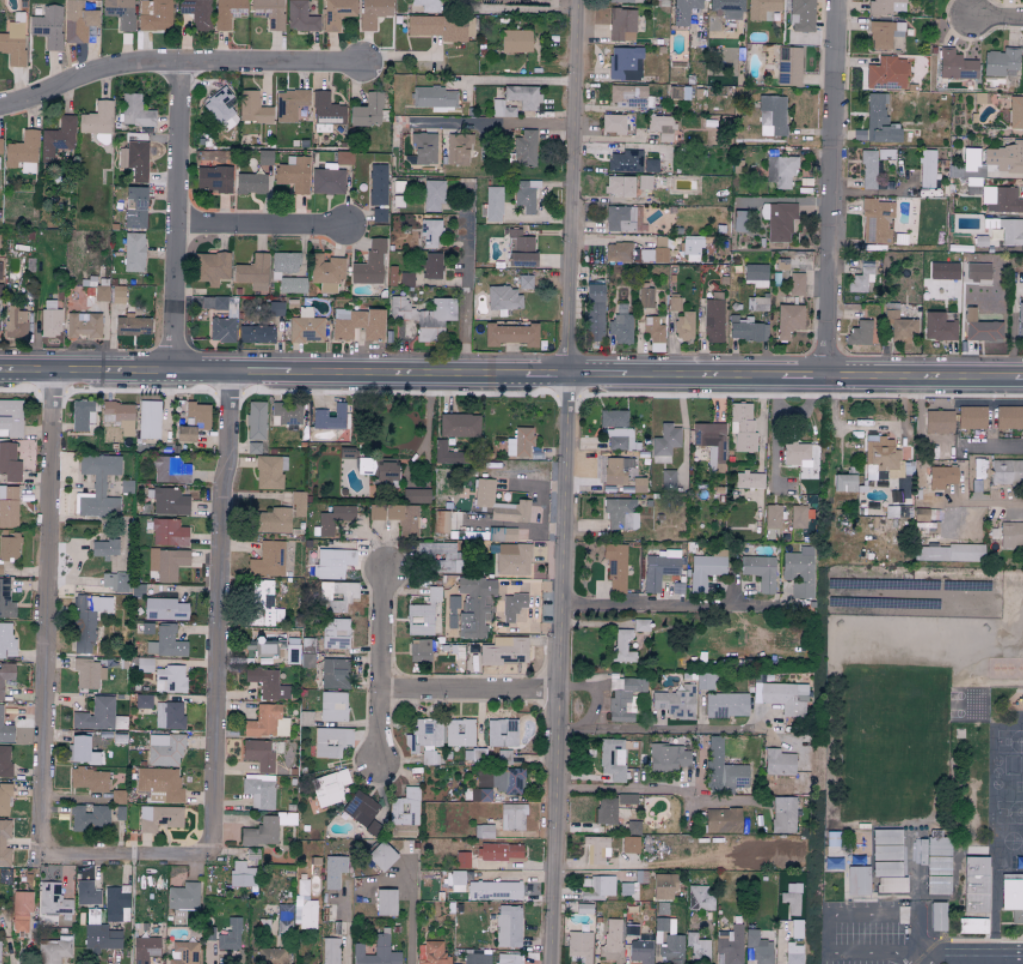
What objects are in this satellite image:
building: (504, 0)
building: (626, 1)
building: (426, 5)
building: (887, 6)
road: (525, 8)
building: (727, 8)
building: (762, 9)
building: (683, 11)
building: (120, 12)
building: (228, 12)
building: (268, 12)
building: (337, 12)
building: (373, 12)
building: (196, 13)
building: (155, 14)
building: (801, 15)
building: (300, 17)
road: (998, 19)
building: (77, 21)
building: (622, 24)
building: (48, 26)
building: (443, 27)
building: (884, 33)
building: (515, 40)
building: (1000, 62)
road: (176, 63)
building: (624, 63)
building: (788, 65)
building: (955, 65)
building: (886, 73)
road: (516, 81)
building: (674, 92)
building: (627, 95)
building: (523, 96)
building: (434, 97)
building: (289, 103)
building: (219, 105)
building: (252, 108)
building: (326, 109)
building: (501, 109)
building: (366, 110)
building: (133, 112)
building: (1015, 112)
building: (772, 115)
building: (97, 121)
building: (877, 121)
building: (613, 123)
road: (509, 124)
building: (661, 127)
building: (57, 138)
building: (424, 148)
building: (458, 148)
building: (524, 148)
building: (22, 152)
building: (264, 157)
building: (343, 157)
building: (1005, 157)
building: (134, 159)
building: (969, 159)
building: (625, 161)
building: (650, 165)
building: (926, 168)
building: (868, 169)
building: (780, 171)
building: (293, 174)
building: (213, 178)
building: (327, 181)
building: (644, 182)
building: (250, 183)
building: (377, 184)
building: (619, 185)
building: (973, 186)
road: (831, 189)
building: (433, 195)
building: (525, 195)
building: (1001, 200)
building: (493, 204)
building: (134, 207)
building: (379, 215)
road: (176, 218)
building: (620, 218)
building: (740, 220)
building: (778, 220)
building: (876, 221)
road: (260, 228)
building: (1006, 229)
building: (430, 233)
building: (980, 241)
building: (691, 248)
building: (520, 249)
building: (133, 251)
building: (618, 251)
building: (655, 251)
building: (369, 263)
building: (781, 264)
building: (431, 265)
building: (210, 267)
building: (944, 270)
building: (978, 271)
building: (326, 272)
building: (253, 273)
building: (275, 274)
building: (756, 274)
building: (392, 275)
building: (406, 278)
building: (861, 279)
building: (525, 281)
building: (796, 283)
building: (101, 293)
building: (118, 294)
road: (465, 294)
building: (503, 297)
building: (645, 298)
building: (757, 303)
building: (673, 304)
building: (594, 312)
building: (423, 316)
building: (713, 317)
building: (50, 319)
building: (220, 319)
building: (1020, 319)
building: (788, 320)
building: (15, 322)
building: (358, 323)
building: (899, 324)
building: (83, 325)
building: (132, 325)
building: (621, 325)
building: (683, 325)
building: (305, 327)
building: (938, 327)
building: (980, 328)
building: (746, 329)
building: (859, 333)
building: (255, 334)
building: (511, 334)
building: (653, 334)
road: (511, 376)
building: (83, 414)
building: (286, 415)
building: (118, 416)
building: (971, 417)
building: (1009, 417)
building: (11, 418)
building: (613, 418)
building: (149, 419)
building: (330, 419)
building: (256, 420)
building: (938, 421)
building: (193, 422)
building: (459, 425)
building: (742, 426)
road: (774, 430)
building: (615, 438)
building: (520, 442)
building: (664, 443)
building: (711, 443)
building: (253, 448)
building: (449, 454)
building: (796, 455)
building: (881, 456)
building: (9, 463)
building: (978, 468)
building: (379, 469)
building: (171, 470)
building: (615, 471)
building: (1006, 471)
building: (270, 472)
building: (942, 478)
building: (667, 479)
building: (748, 480)
road: (564, 482)
building: (844, 482)
building: (638, 485)
building: (97, 486)
building: (112, 486)
building: (126, 486)
building: (416, 496)
building: (168, 501)
building: (298, 503)
building: (499, 503)
building: (8, 506)
road: (1014, 508)
building: (897, 511)
building: (375, 512)
building: (620, 515)
building: (772, 515)
building: (925, 515)
building: (404, 519)
building: (798, 519)
building: (271, 520)
building: (454, 520)
building: (441, 522)
building: (326, 524)
building: (169, 532)
building: (503, 534)
building: (1011, 534)
building: (9, 548)
building: (105, 548)
building: (949, 553)
building: (439, 558)
building: (512, 558)
building: (268, 559)
building: (167, 563)
building: (333, 563)
building: (615, 567)
building: (659, 568)
building: (704, 570)
building: (761, 571)
building: (799, 571)
building: (116, 582)
building: (152, 588)
building: (677, 588)
building: (138, 590)
building: (336, 596)
building: (6, 600)
road: (49, 601)
building: (262, 605)
road: (667, 605)
road: (220, 606)
building: (513, 606)
building: (475, 607)
building: (165, 609)
building: (452, 612)
building: (423, 614)
building: (88, 620)
building: (640, 625)
building: (147, 629)
building: (335, 635)
building: (6, 639)
building: (166, 642)
building: (622, 646)
building: (264, 648)
building: (420, 651)
building: (504, 651)
building: (123, 664)
building: (145, 665)
road: (384, 667)
building: (88, 673)
building: (335, 674)
building: (6, 678)
building: (170, 680)
building: (704, 681)
building: (267, 683)
road: (472, 691)
building: (622, 697)
building: (783, 697)
building: (143, 702)
building: (675, 702)
building: (726, 705)
building: (333, 707)
building: (99, 716)
building: (169, 716)
building: (267, 723)
road: (655, 728)
building: (5, 731)
building: (460, 733)
building: (503, 733)
building: (119, 738)
building: (425, 739)
building: (331, 742)
building: (165, 750)
building: (82, 751)
building: (262, 754)
building: (503, 756)
building: (479, 757)
building: (668, 757)
building: (611, 758)
building: (5, 762)
building: (778, 762)
building: (722, 769)
building: (89, 780)
building: (502, 780)
building: (159, 786)
building: (330, 788)
building: (259, 791)
road: (623, 792)
building: (477, 795)
building: (118, 797)
building: (626, 798)
building: (5, 799)
building: (361, 809)
building: (606, 810)
building: (120, 814)
building: (405, 814)
building: (783, 815)
building: (513, 817)
building: (89, 818)
building: (159, 818)
building: (722, 821)
building: (633, 827)
building: (374, 829)
building: (267, 830)
building: (483, 831)
building: (886, 836)
building: (832, 839)
building: (2, 844)
building: (630, 844)
building: (932, 848)
building: (596, 849)
building: (886, 852)
building: (500, 853)
road: (126, 855)
building: (382, 857)
building: (462, 860)
building: (938, 865)
building: (886, 869)
building: (334, 871)
building: (242, 875)
building: (456, 881)
building: (857, 881)
building: (975, 884)
building: (891, 885)
building: (937, 885)
building: (597, 887)
building: (663, 887)
building: (624, 888)
building: (495, 891)
building: (87, 894)
building: (699, 898)
building: (792, 898)
building: (183, 899)
building: (1012, 899)
building: (53, 902)
building: (386, 903)
building: (117, 904)
building: (304, 907)
building: (583, 908)
building: (662, 908)
building: (21, 910)
road: (410, 914)
road: (836, 915)
building: (938, 916)
building: (284, 920)
road: (345, 923)
building: (664, 925)
building: (507, 926)
building: (971, 926)
building: (631, 929)
building: (797, 929)
parking lot: (868, 933)
building: (99, 934)
building: (230, 936)
building: (611, 941)
building: (730, 944)
building: (579, 947)
building: (698, 947)
building: (757, 948)
building: (146, 949)
building: (672, 949)
building: (54, 950)
building: (331, 951)
building: (377, 951)
building: (640, 951)
building: (793, 952)
building: (184, 953)
building: (433, 953)
road: (974, 956)
building: (273, 957)
building: (477, 957)
building: (509, 959)

